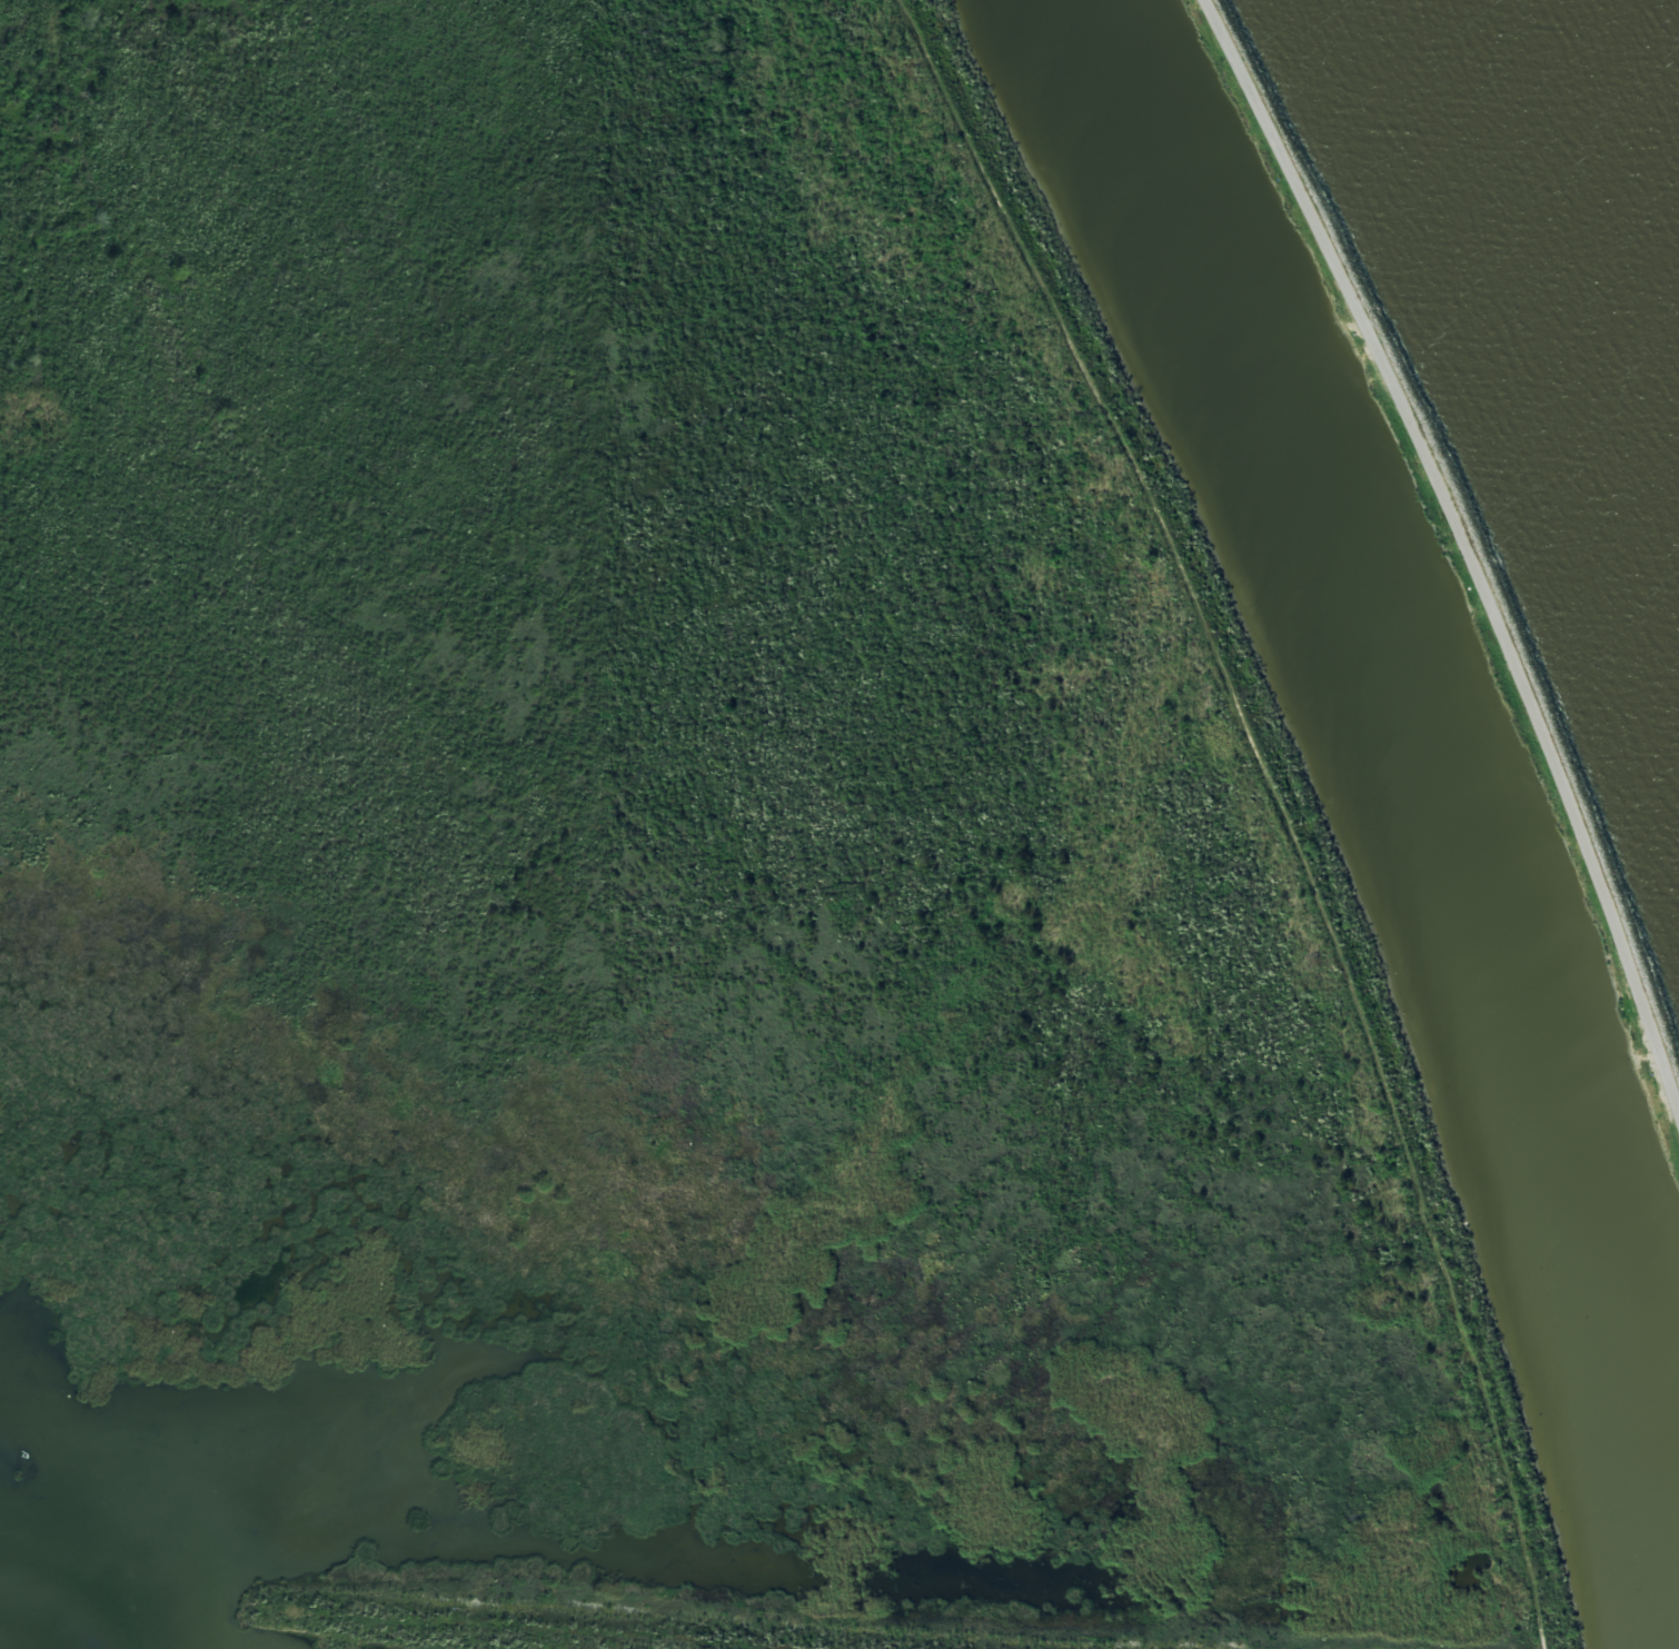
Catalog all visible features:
road: (1457, 525)
road: (1672, 1087)

